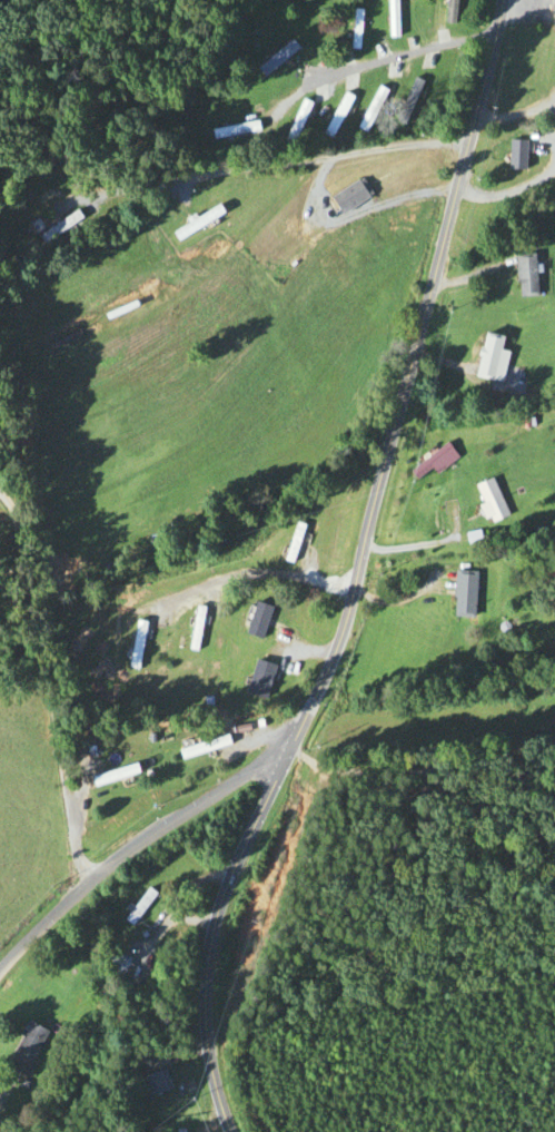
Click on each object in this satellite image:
building: (443, 11)
building: (549, 13)
building: (384, 18)
building: (348, 29)
building: (270, 58)
road: (383, 61)
building: (365, 109)
building: (289, 124)
building: (227, 130)
road: (549, 140)
building: (512, 155)
road: (271, 166)
road: (509, 193)
building: (345, 197)
road: (365, 210)
building: (192, 223)
building: (57, 228)
building: (239, 268)
building: (522, 276)
building: (484, 357)
building: (425, 462)
building: (483, 501)
road: (423, 543)
road: (242, 565)
road: (357, 573)
building: (459, 594)
road: (403, 599)
building: (254, 621)
building: (192, 629)
building: (133, 644)
building: (250, 686)
road: (41, 693)
building: (200, 749)
road: (422, 772)
building: (111, 776)
road: (133, 850)
building: (136, 908)
building: (117, 965)
building: (23, 1050)
building: (152, 1084)

